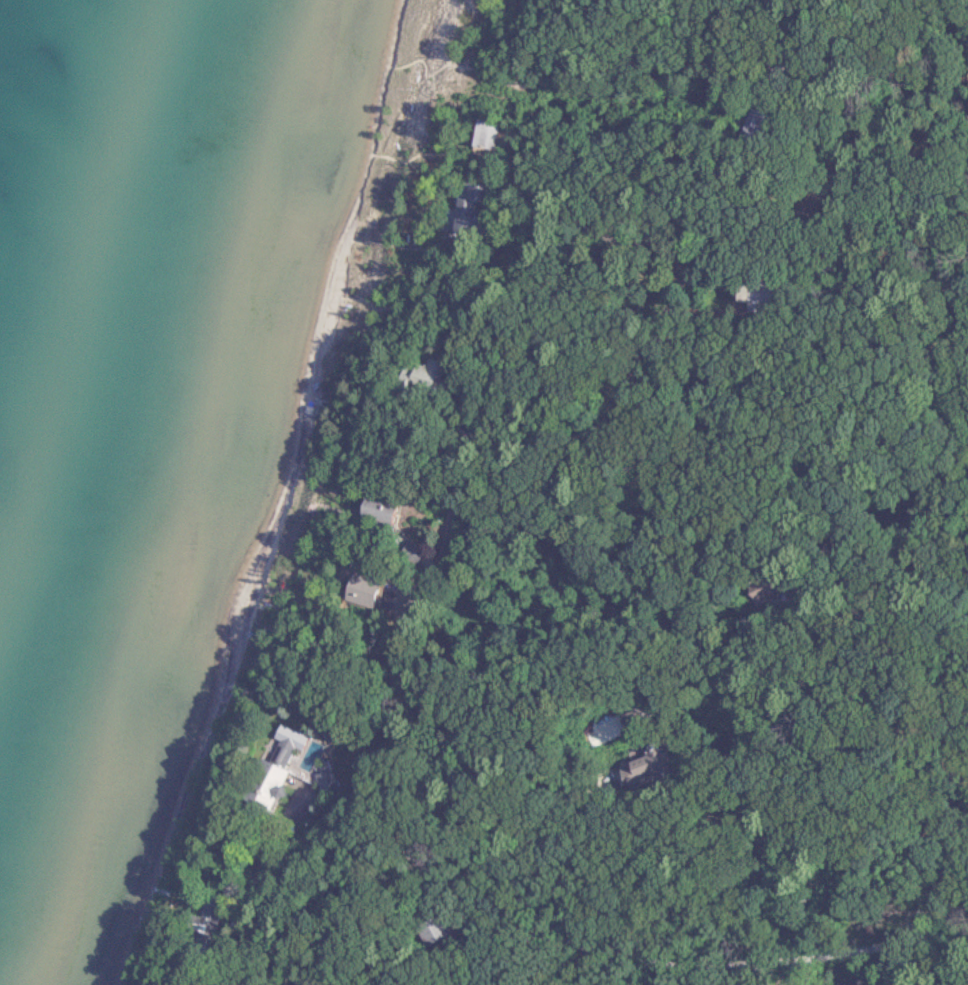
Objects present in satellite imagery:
building: (485, 132)
road: (716, 201)
building: (474, 209)
road: (807, 222)
road: (570, 245)
building: (431, 372)
road: (529, 453)
road: (595, 474)
road: (690, 504)
building: (371, 512)
building: (268, 764)
road: (517, 852)
road: (417, 882)
road: (889, 970)

